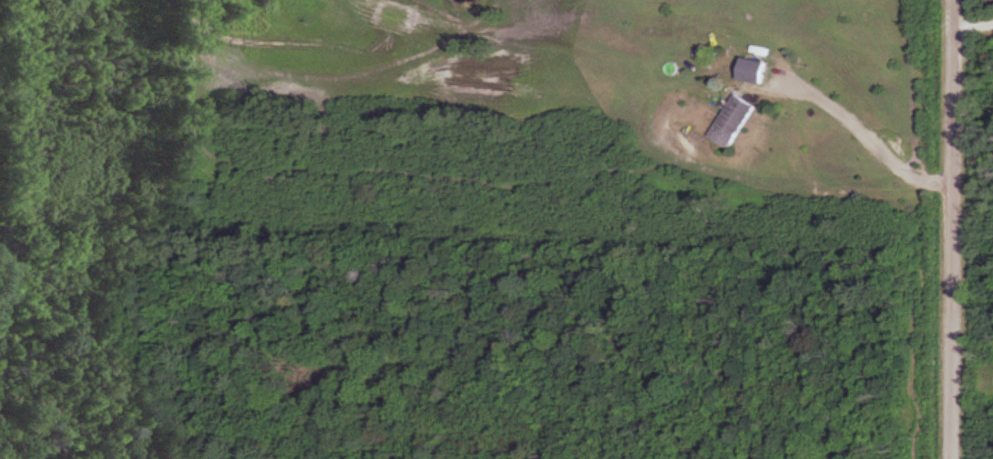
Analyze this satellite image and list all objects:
road: (973, 22)
building: (735, 120)
road: (849, 133)
road: (949, 229)

